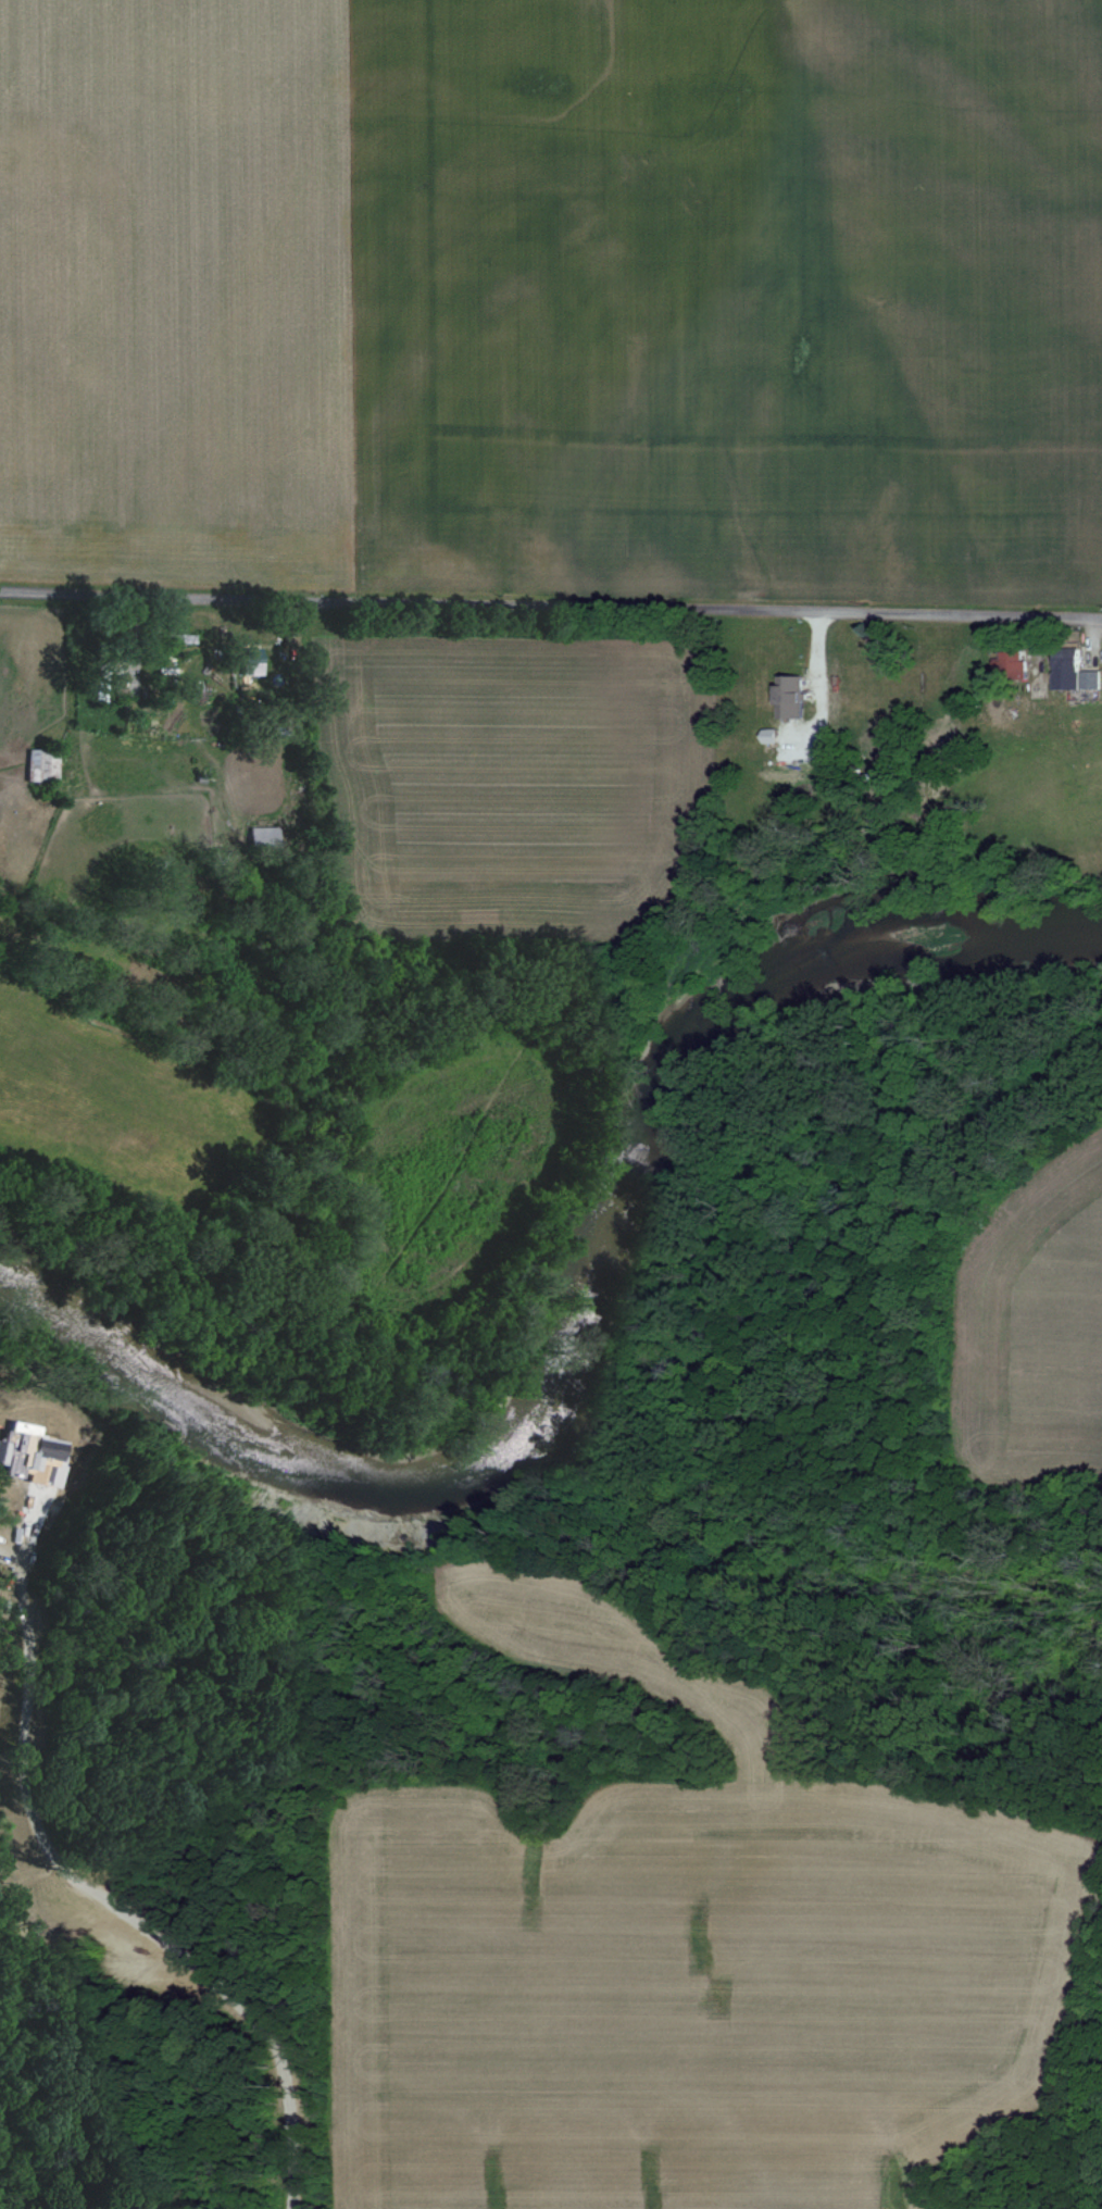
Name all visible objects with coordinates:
road: (550, 606)
building: (248, 662)
building: (1009, 665)
building: (1070, 672)
road: (824, 682)
building: (788, 699)
building: (767, 736)
building: (34, 765)
building: (261, 836)
river: (571, 1319)

